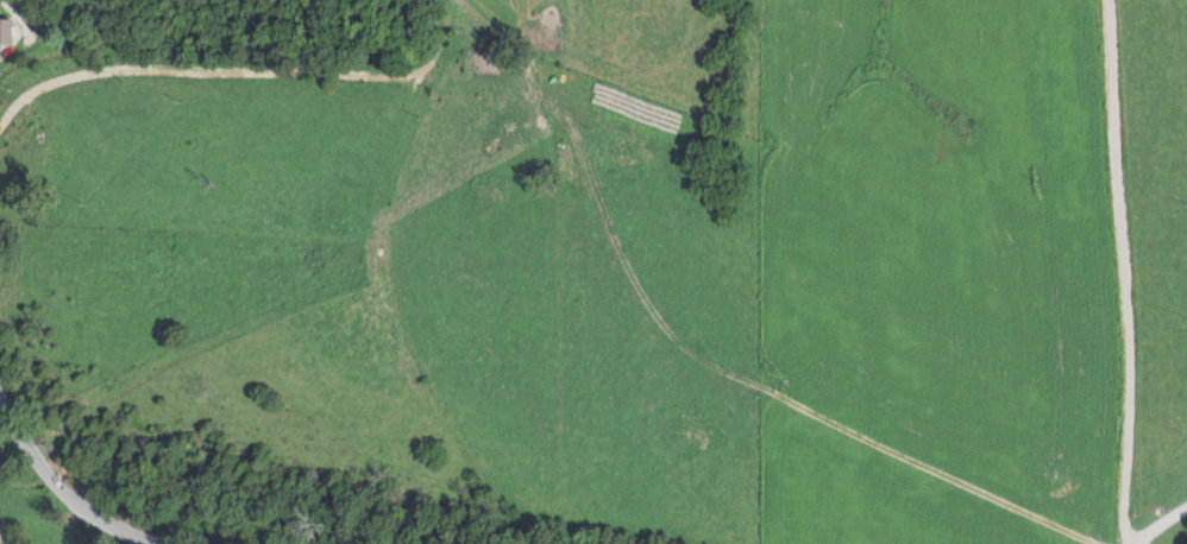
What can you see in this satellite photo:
building: (2, 30)
road: (1124, 271)
road: (701, 348)
road: (75, 489)
road: (1157, 524)

